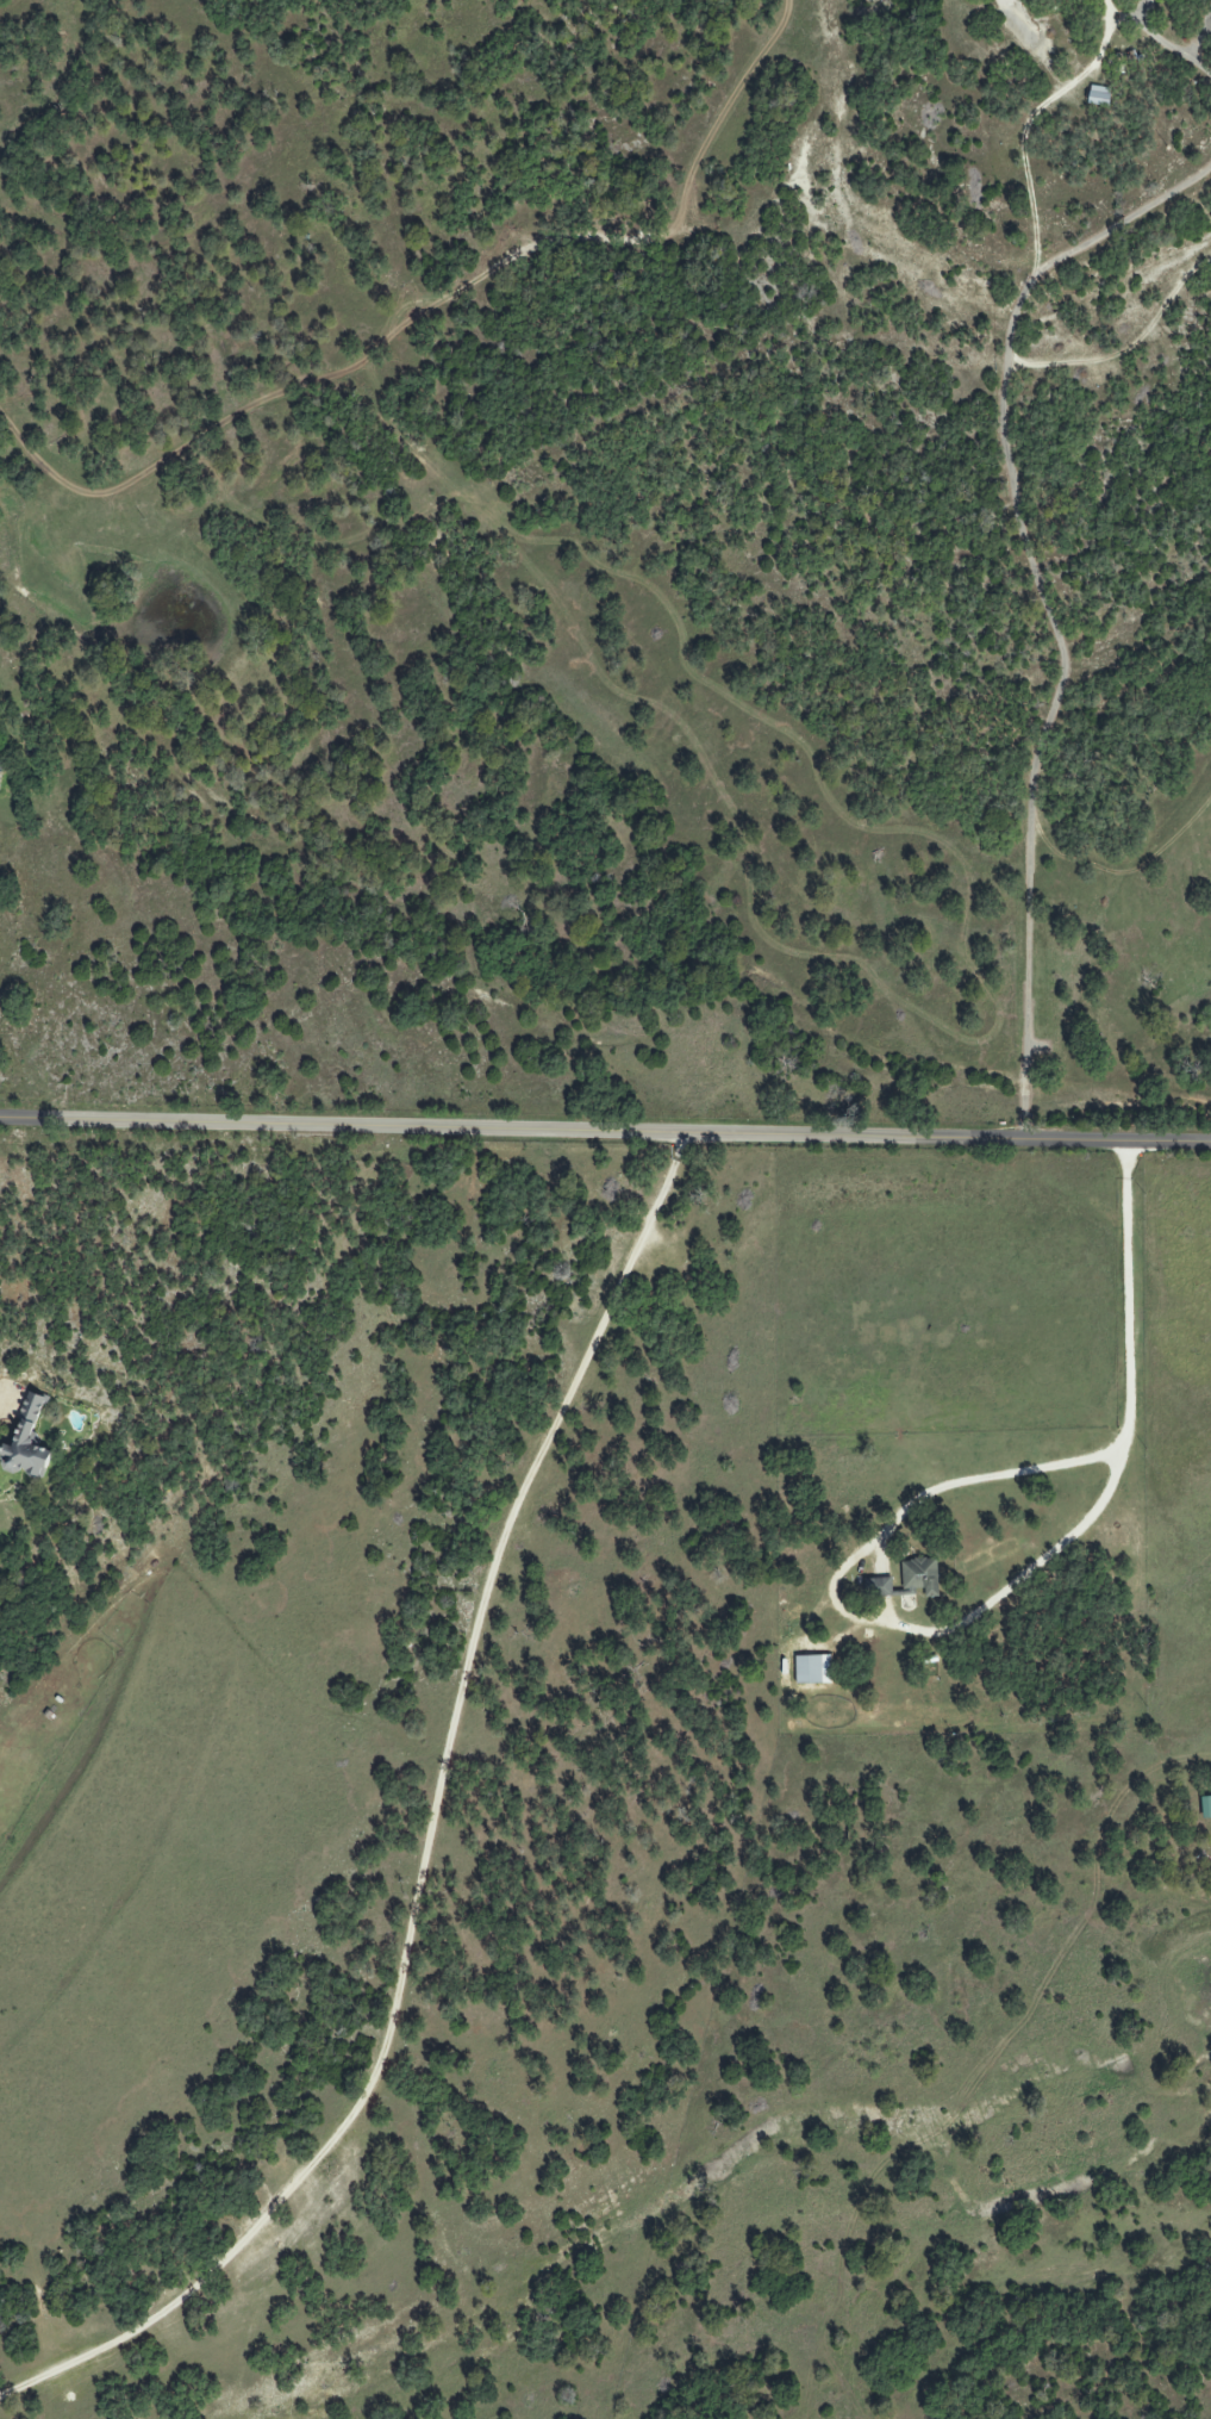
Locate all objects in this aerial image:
road: (1029, 552)
building: (0, 766)
road: (605, 1132)
building: (27, 1444)
building: (907, 1582)
road: (991, 1599)
building: (812, 1671)
building: (1205, 1808)
road: (431, 1836)

